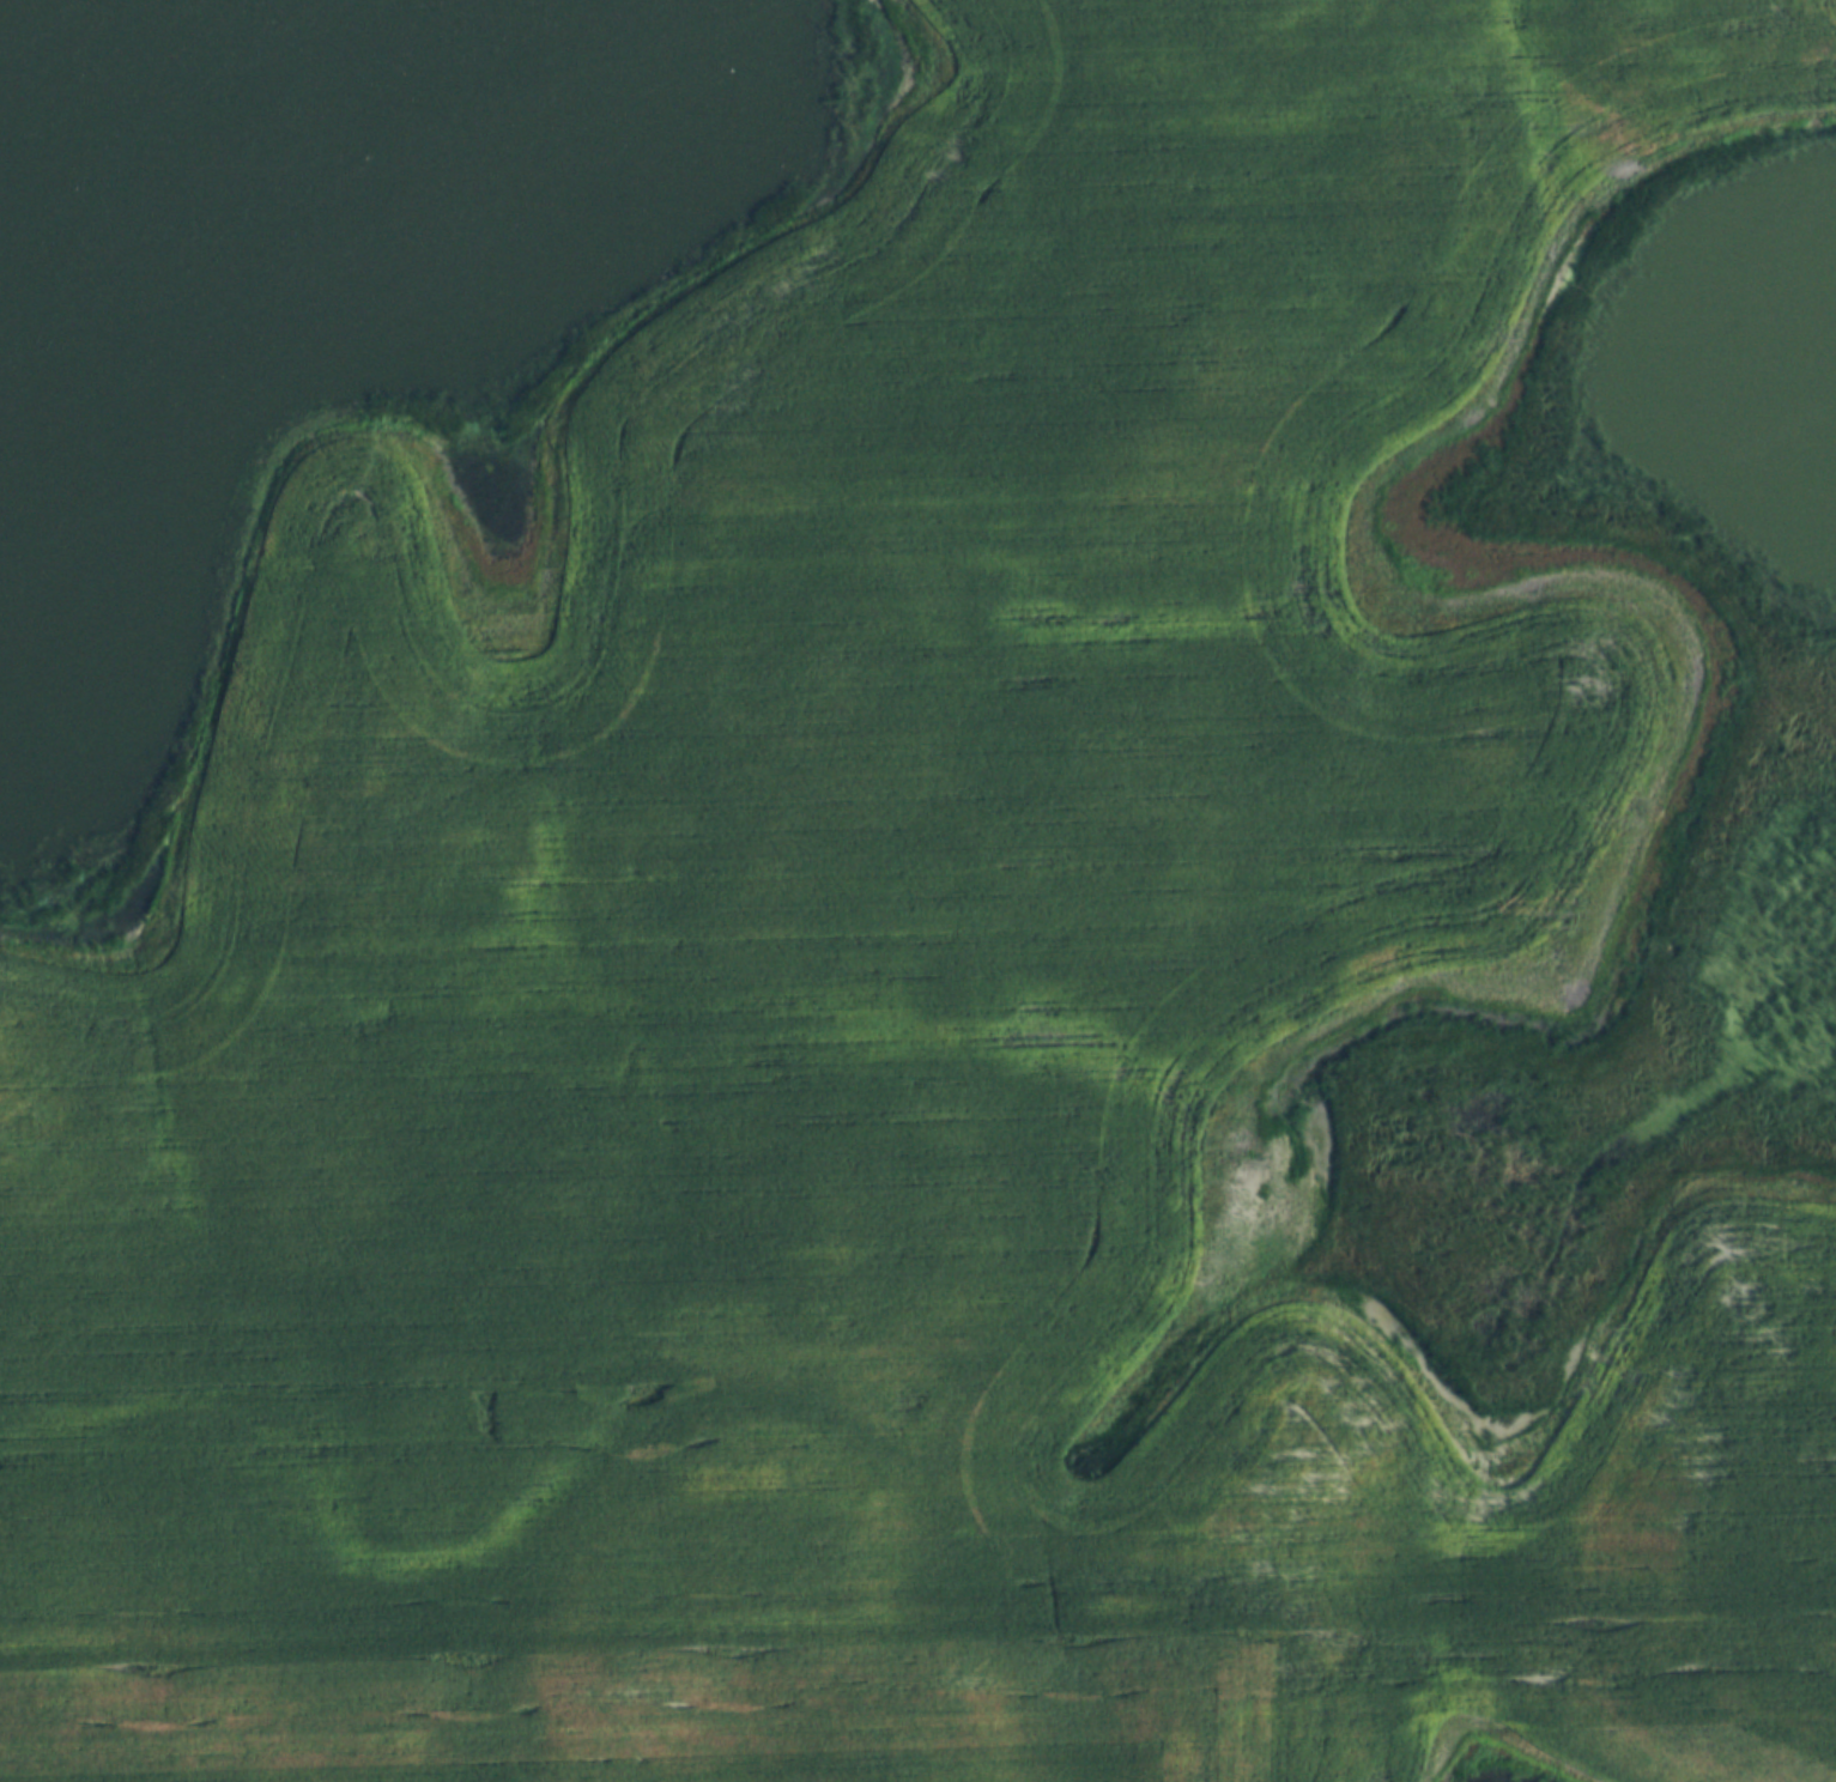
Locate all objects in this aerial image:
road: (917, 1623)

